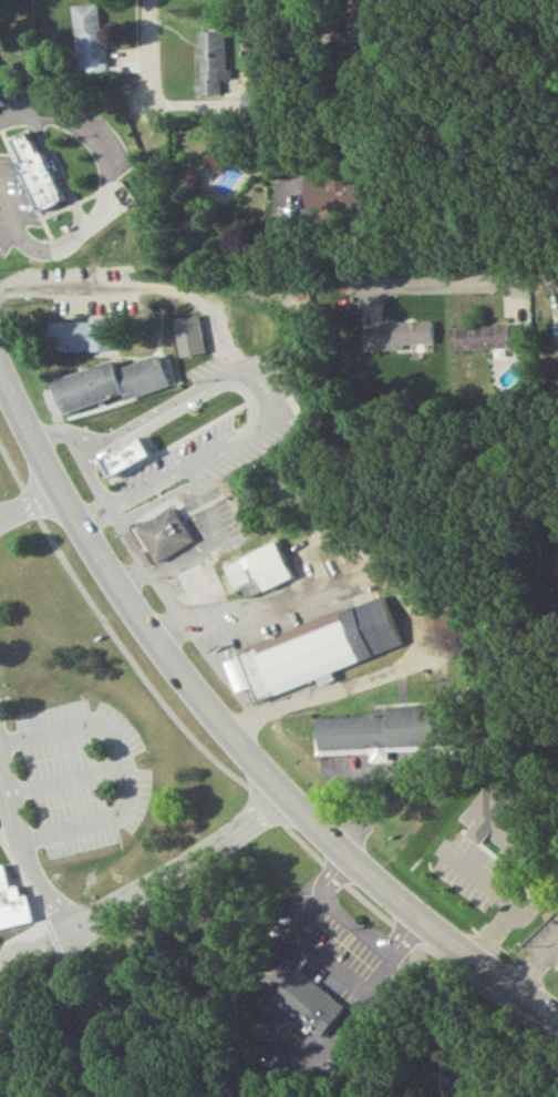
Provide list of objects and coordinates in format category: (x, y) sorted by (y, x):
building: (89, 42)
road: (146, 55)
building: (210, 66)
road: (21, 100)
road: (97, 176)
building: (337, 199)
road: (9, 228)
road: (454, 281)
road: (60, 285)
building: (80, 341)
building: (396, 341)
building: (486, 344)
building: (555, 346)
road: (258, 385)
building: (107, 388)
building: (217, 391)
building: (112, 452)
building: (113, 455)
road: (29, 504)
road: (206, 531)
building: (162, 540)
road: (137, 560)
road: (123, 567)
building: (232, 580)
road: (396, 594)
building: (312, 656)
road: (230, 737)
building: (381, 737)
road: (124, 773)
parking lot: (80, 781)
road: (65, 785)
building: (508, 841)
road: (496, 906)
building: (11, 911)
road: (100, 921)
road: (37, 955)
building: (307, 1008)

